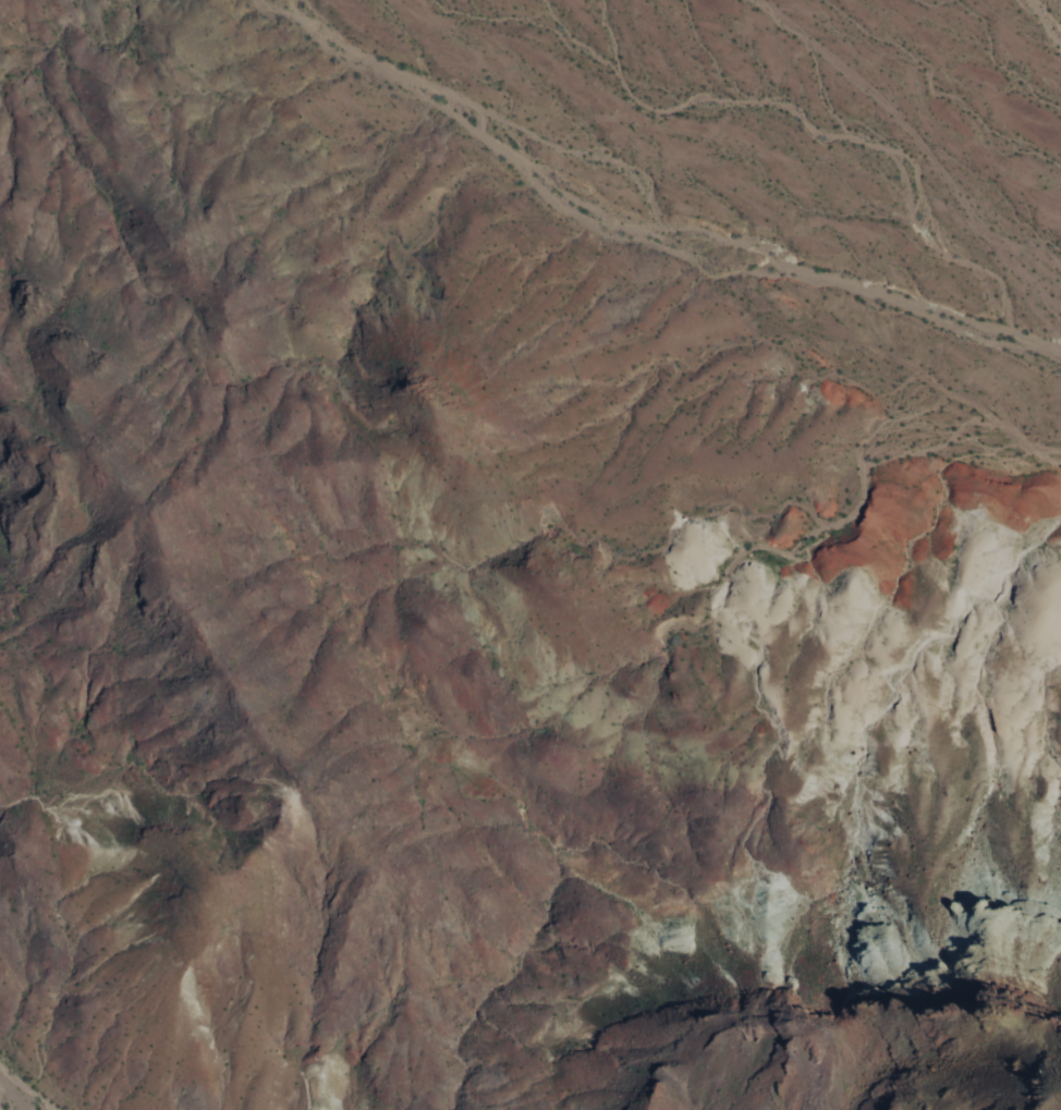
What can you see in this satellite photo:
road: (854, 160)

